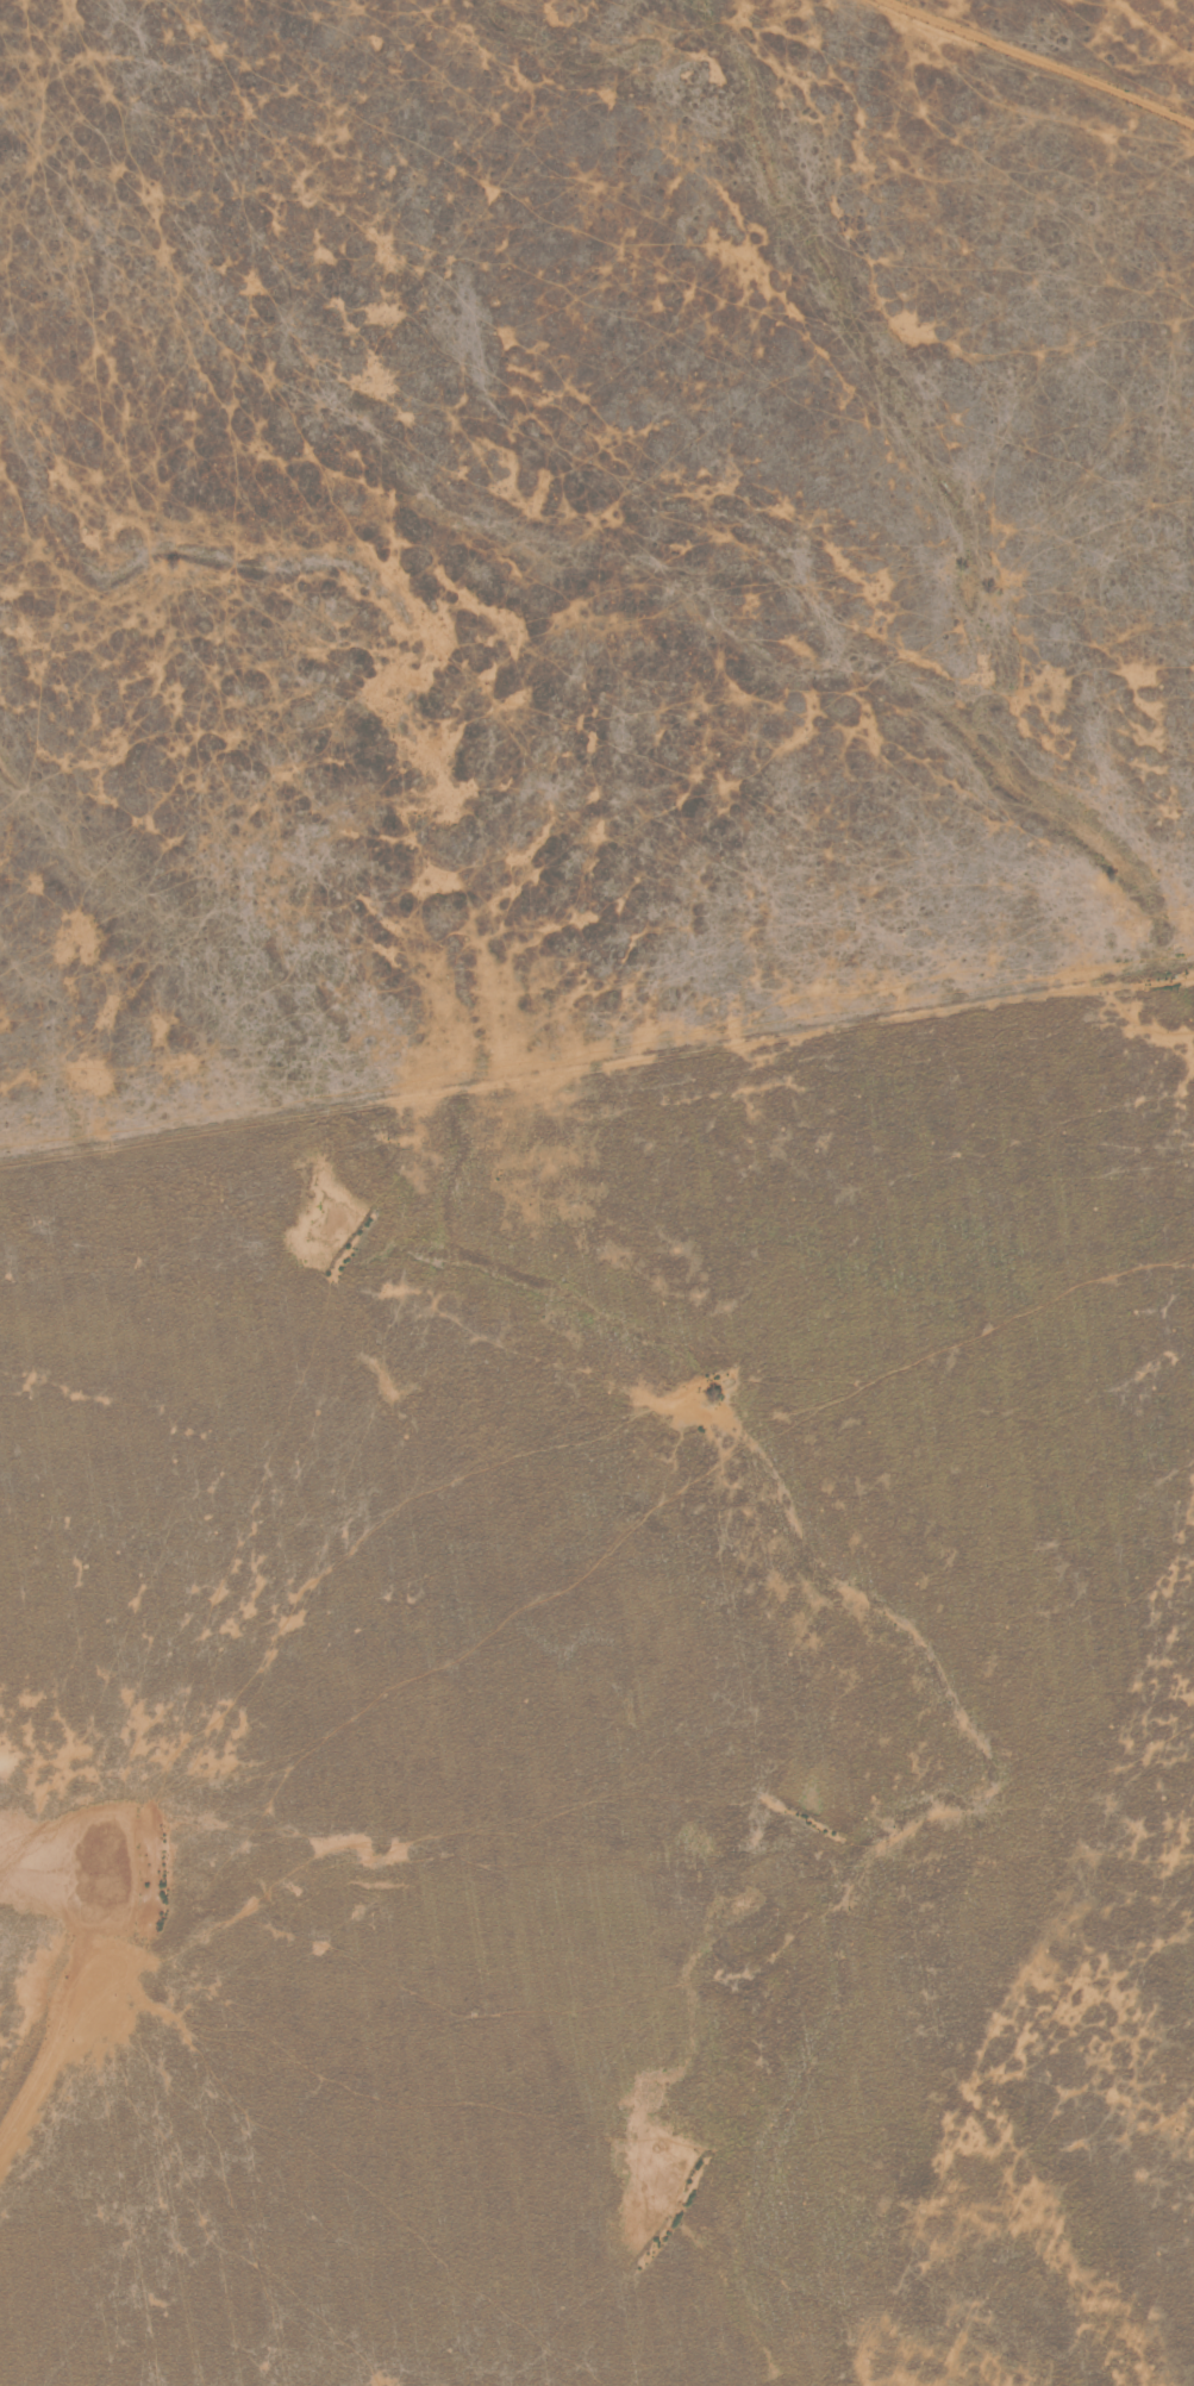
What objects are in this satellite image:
road: (1044, 60)

